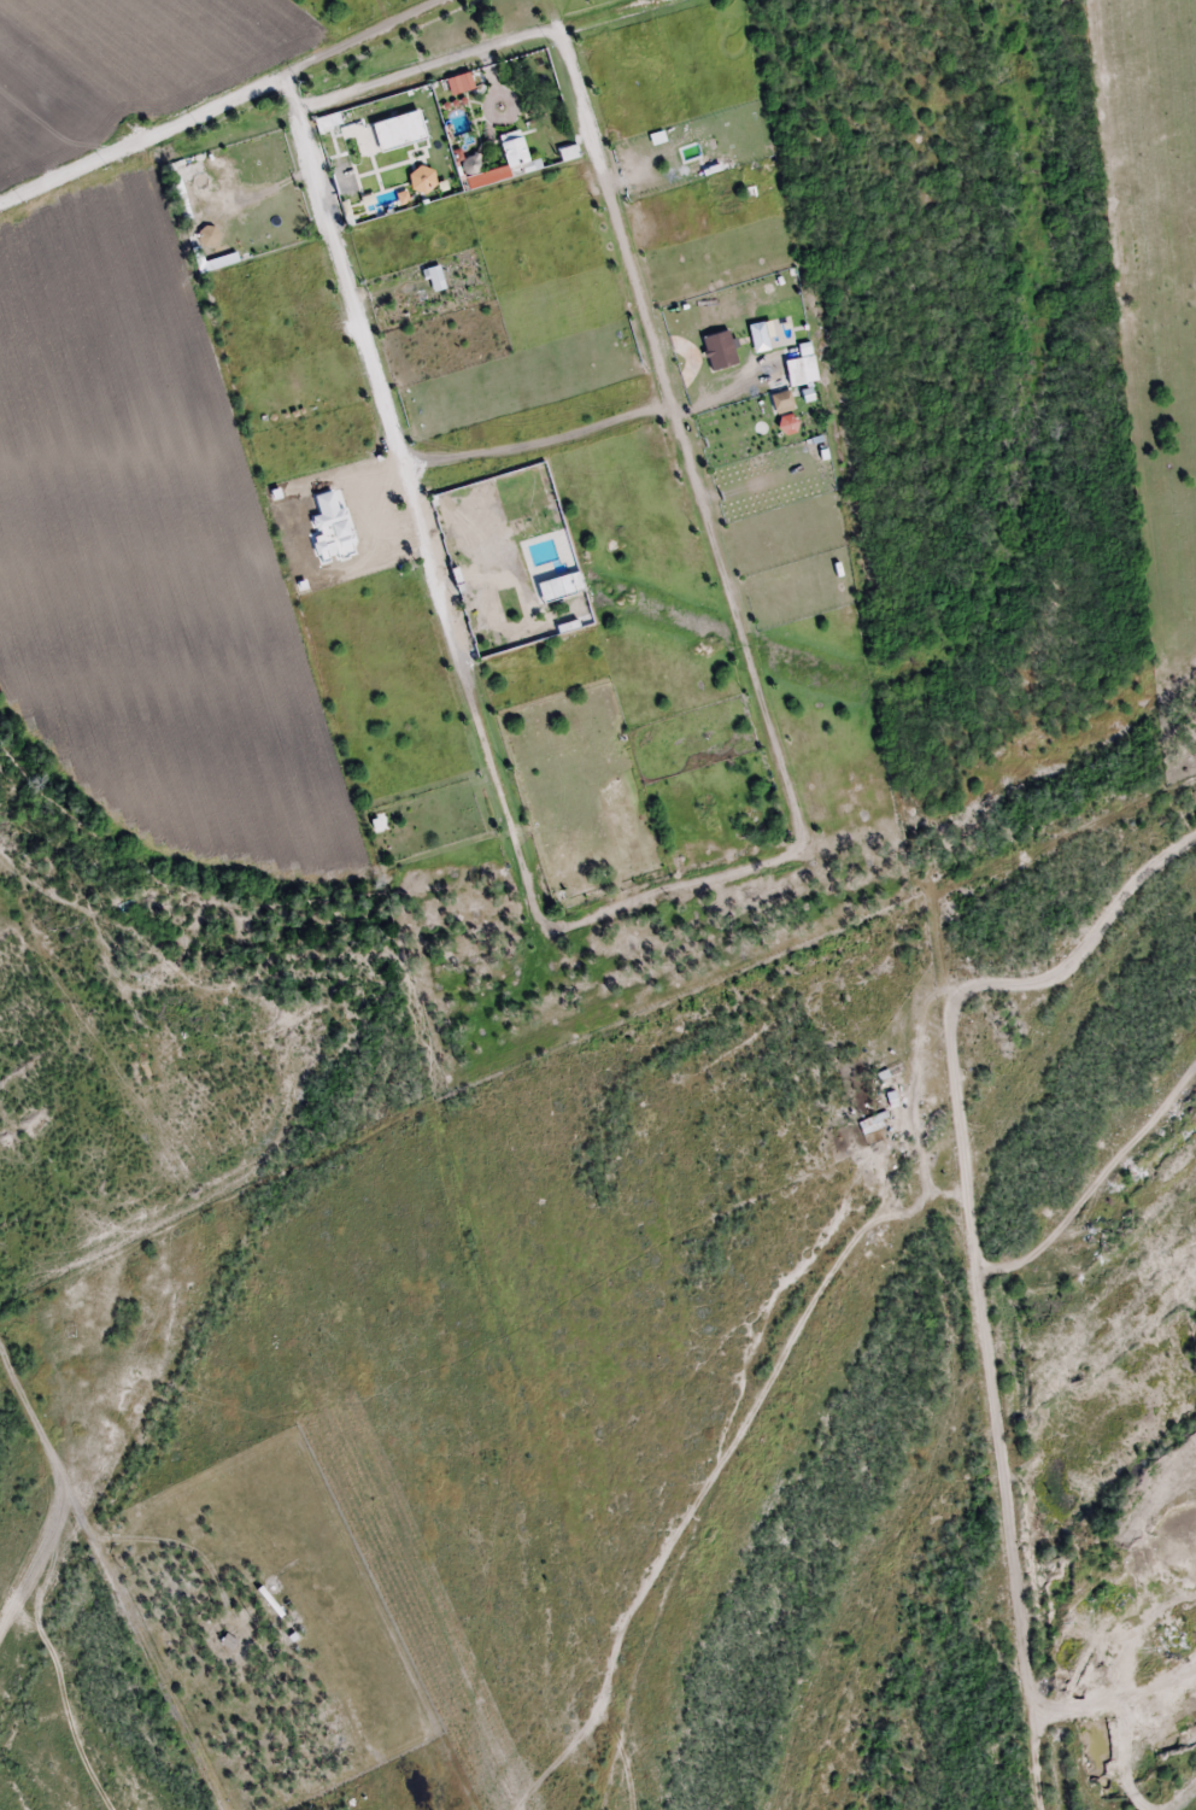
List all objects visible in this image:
road: (71, 1482)

